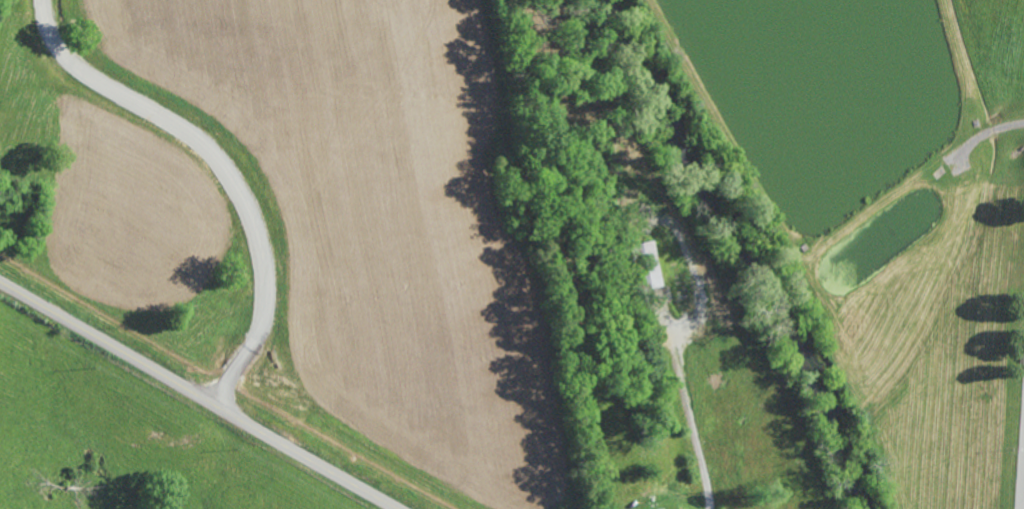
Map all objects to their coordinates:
road: (225, 169)
wastewater plant: (892, 205)
wastewater plant: (304, 221)
building: (646, 264)
road: (197, 397)
road: (690, 413)
road: (1023, 507)

